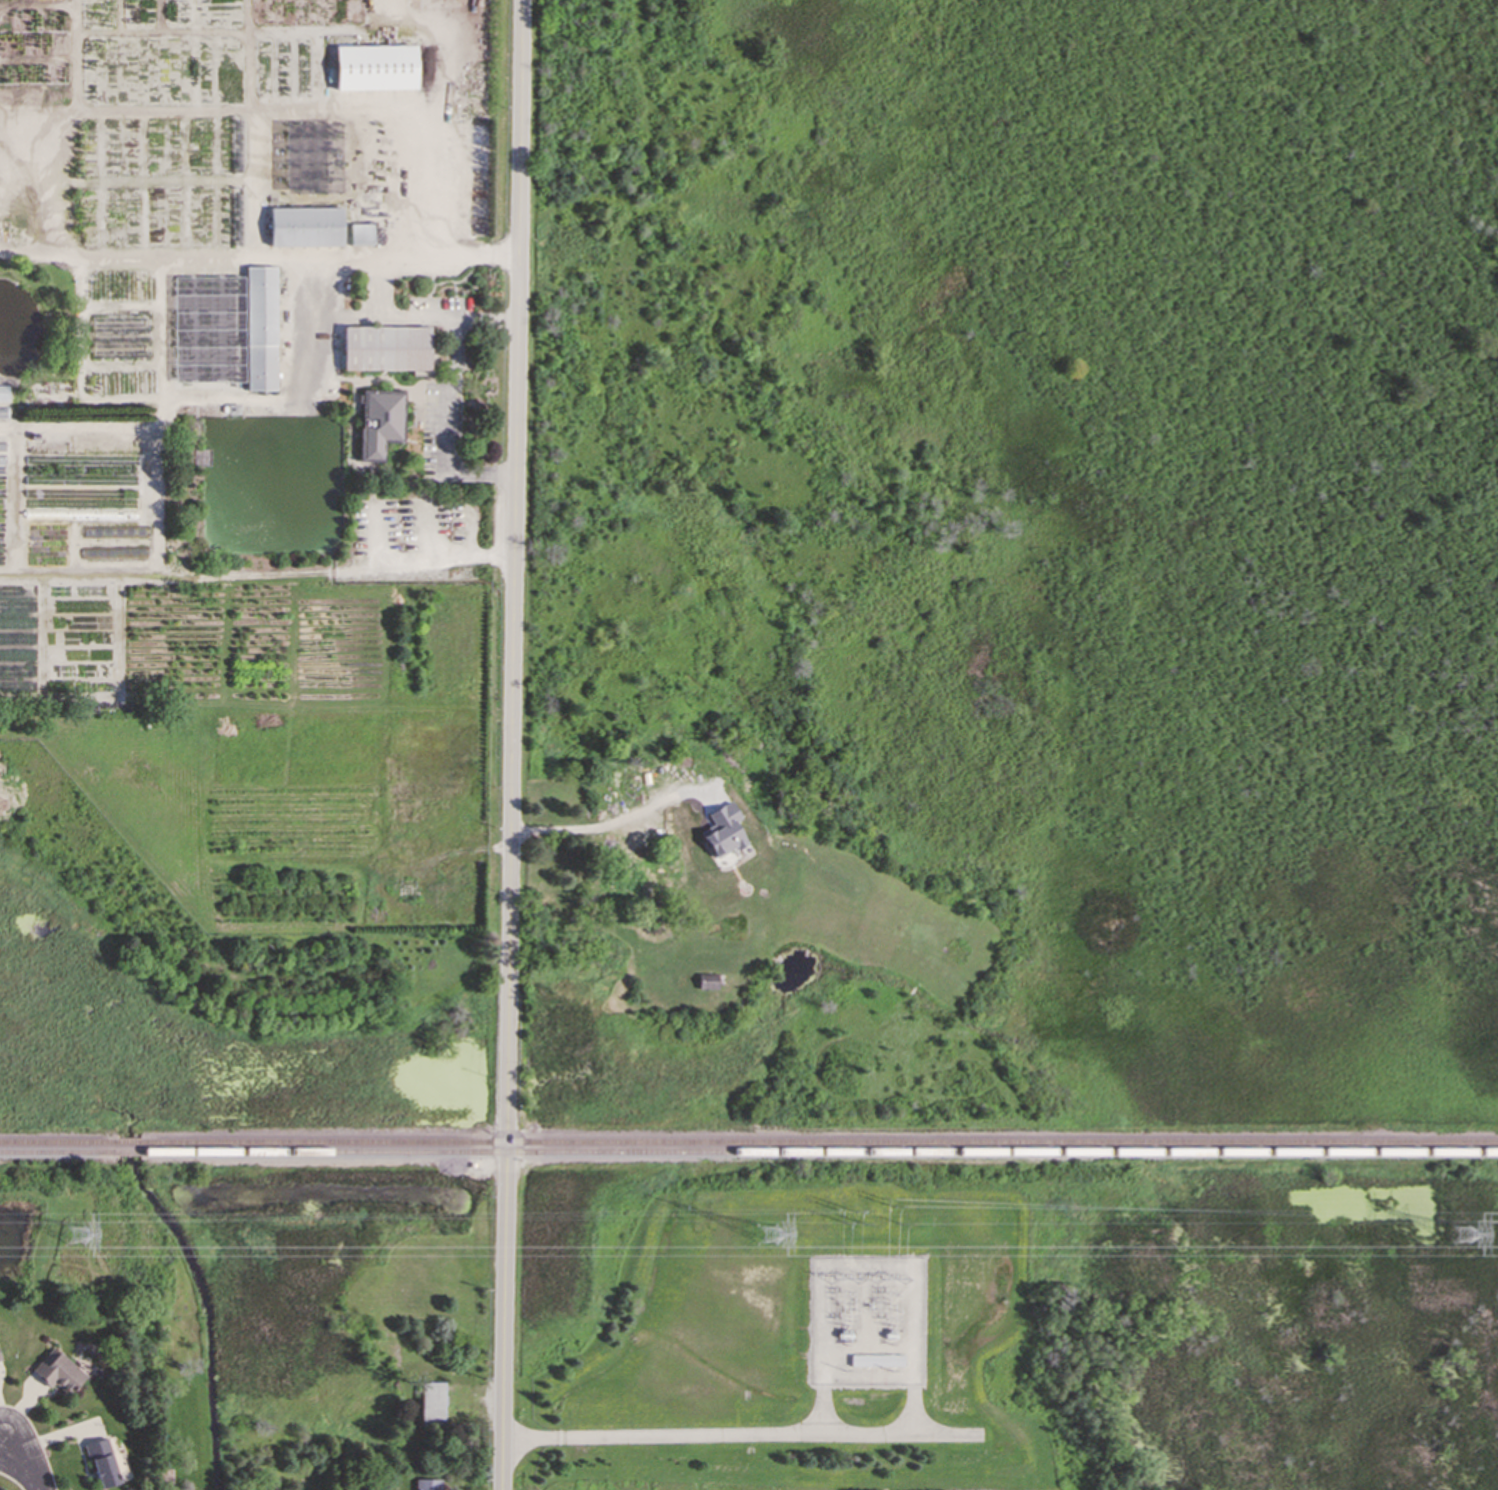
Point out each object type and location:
building: (374, 67)
building: (304, 226)
building: (360, 234)
road: (375, 313)
road: (487, 316)
building: (260, 328)
building: (385, 347)
building: (3, 392)
building: (379, 420)
road: (511, 745)
road: (580, 829)
building: (721, 830)
building: (626, 868)
building: (706, 980)
railway: (820, 1143)
railway: (58, 1144)
railway: (130, 1144)
railway: (820, 1153)
railway: (58, 1154)
railway: (129, 1154)
power tower: (762, 1235)
power tower: (75, 1237)
power tower: (1465, 1237)
power substation: (867, 1322)
building: (0, 1360)
building: (56, 1371)
building: (431, 1403)
road: (803, 1433)
road: (22, 1461)
building: (101, 1462)
building: (428, 1484)

